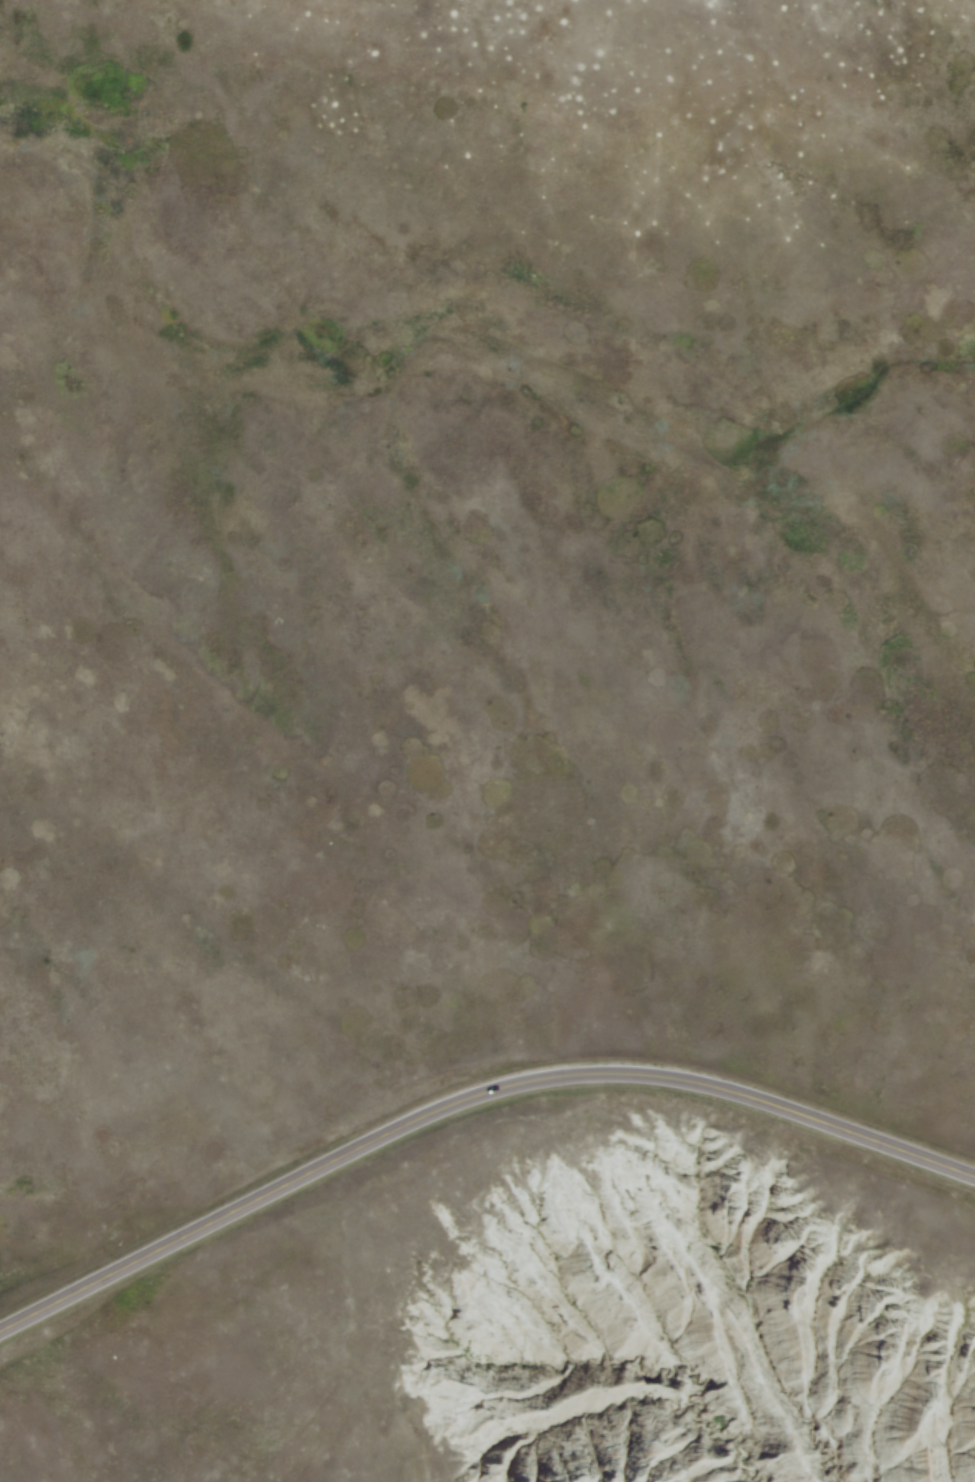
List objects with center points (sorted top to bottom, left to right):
road: (469, 1097)

